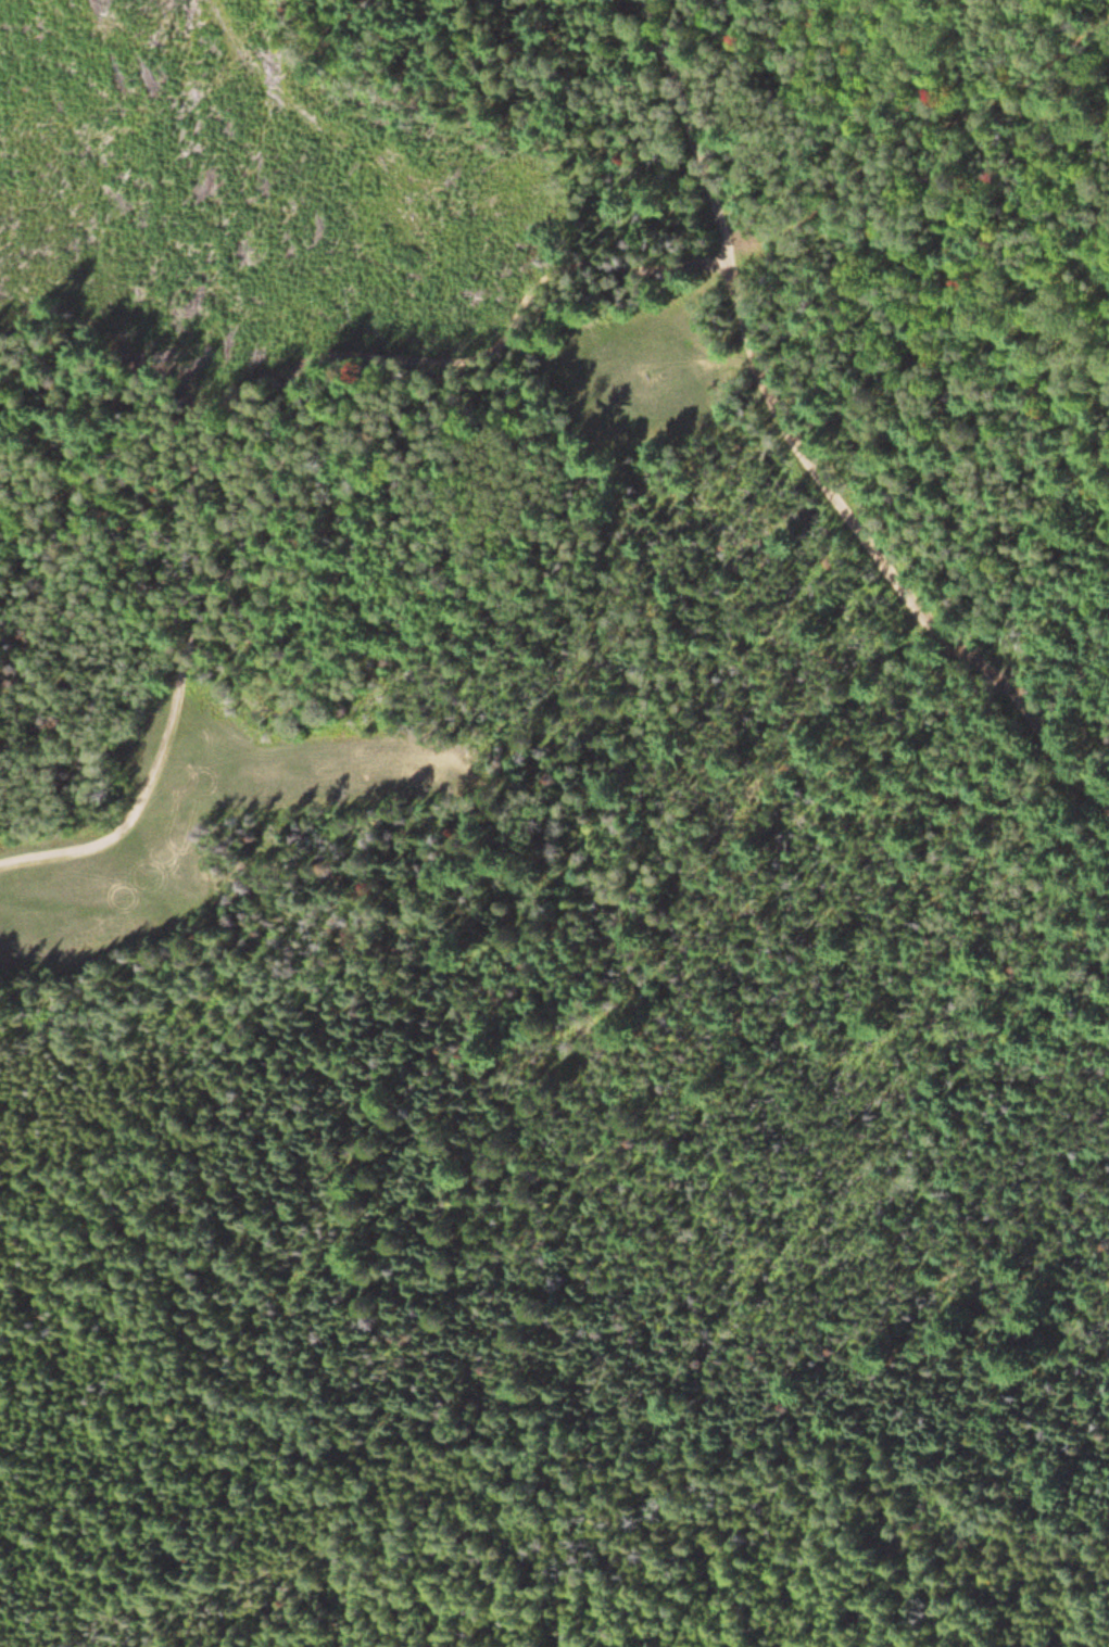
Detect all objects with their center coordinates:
road: (805, 445)

